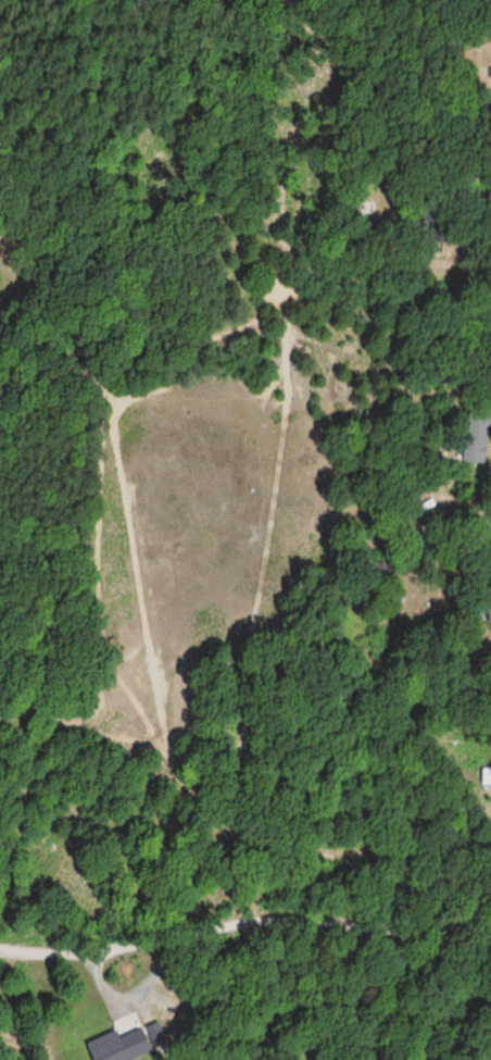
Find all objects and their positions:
building: (490, 77)
building: (476, 437)
building: (122, 1046)

